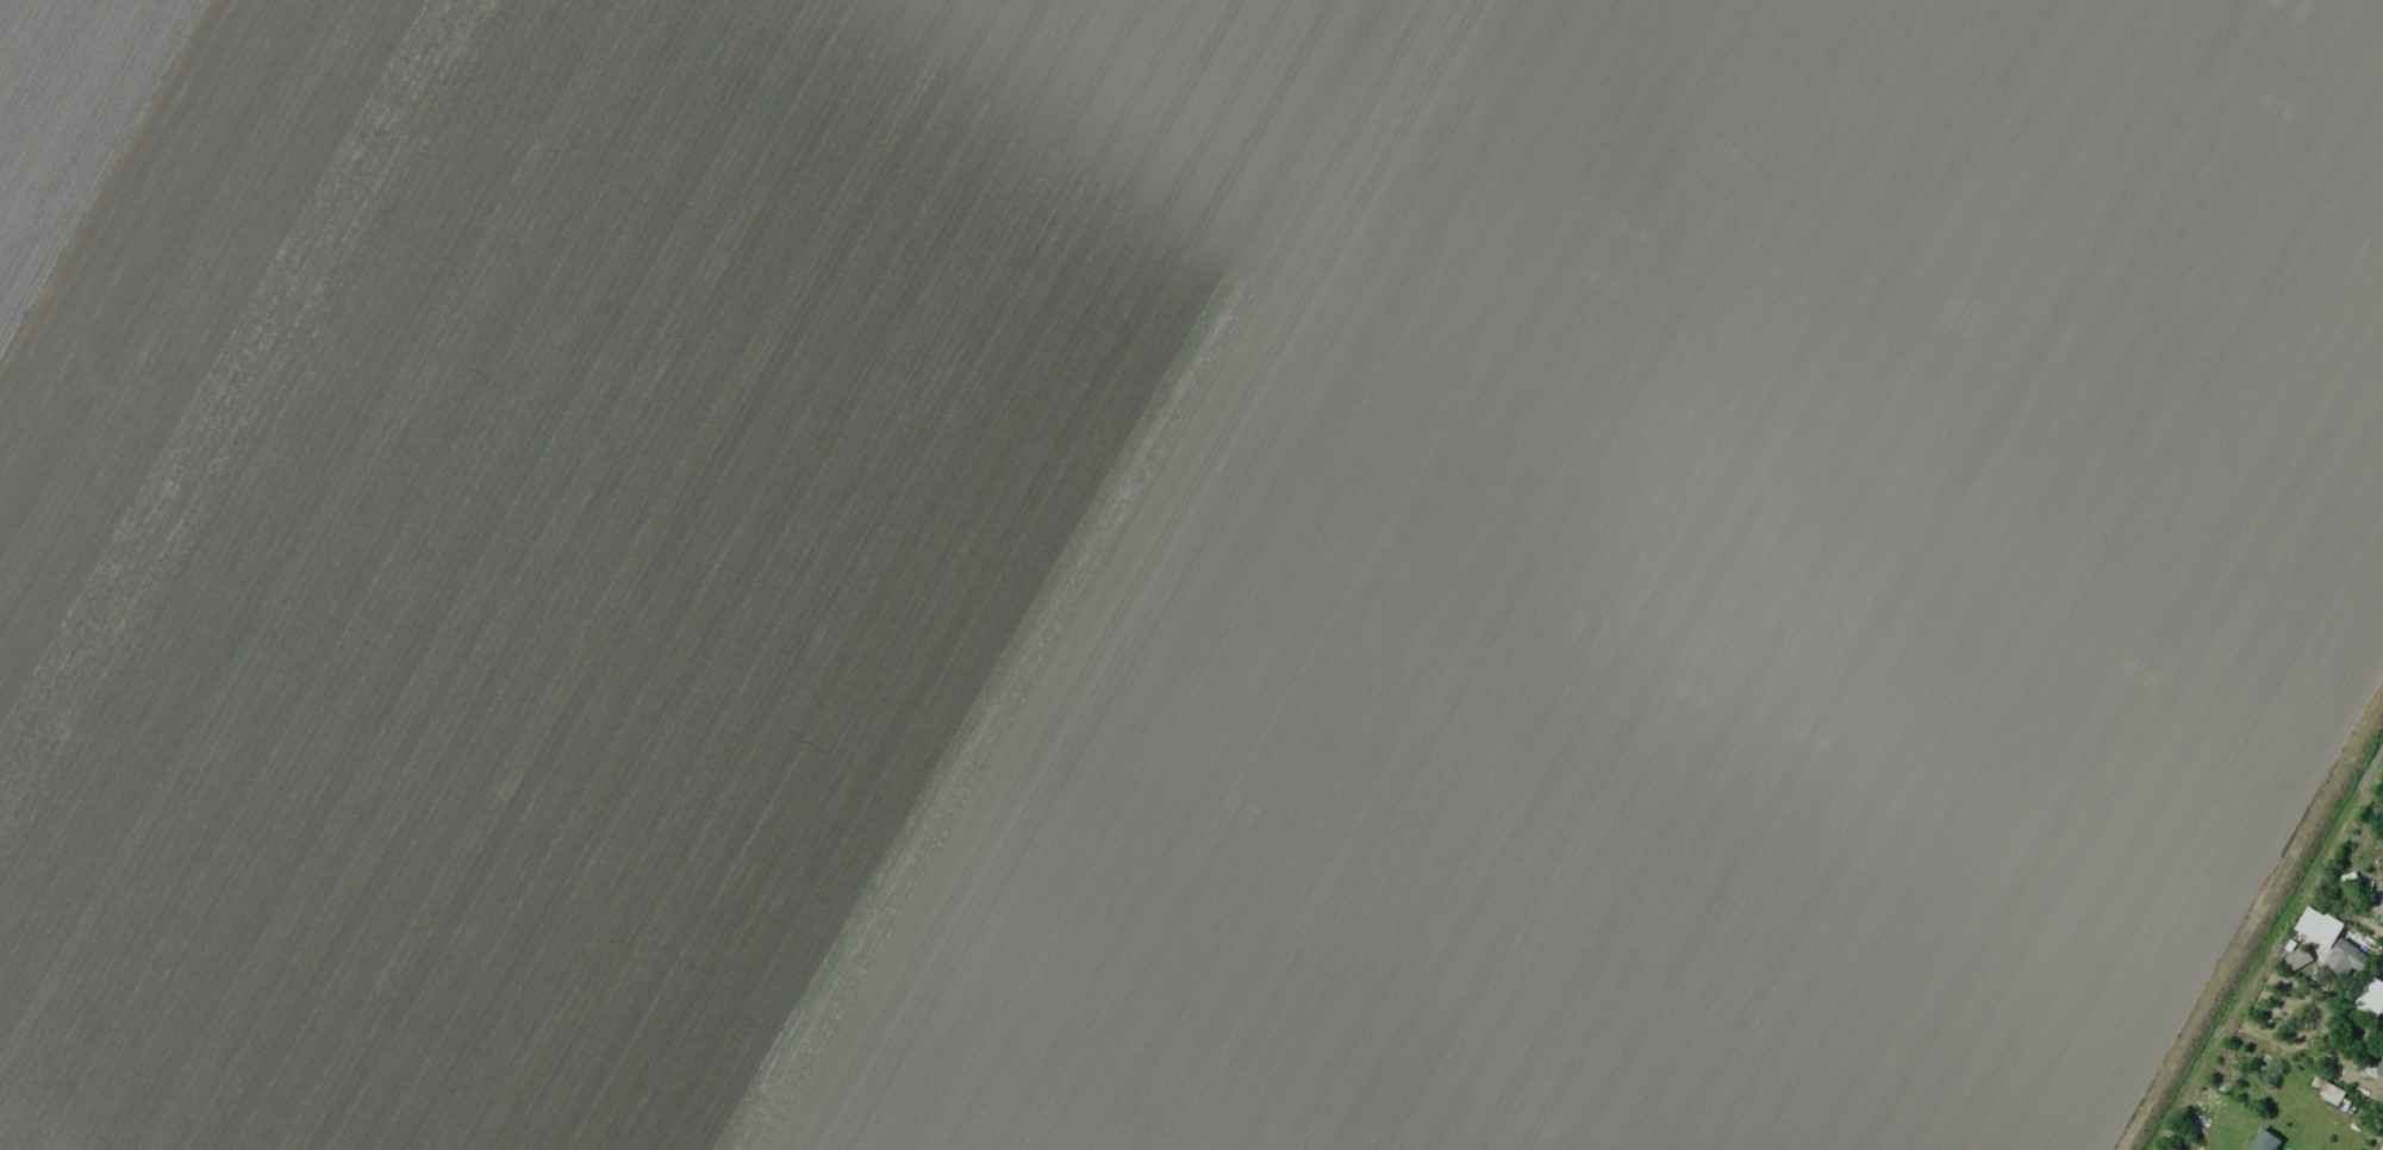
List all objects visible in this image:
building: (2319, 925)
building: (2297, 957)
building: (2344, 958)
building: (2370, 996)
building: (2377, 1070)
building: (2263, 1140)

